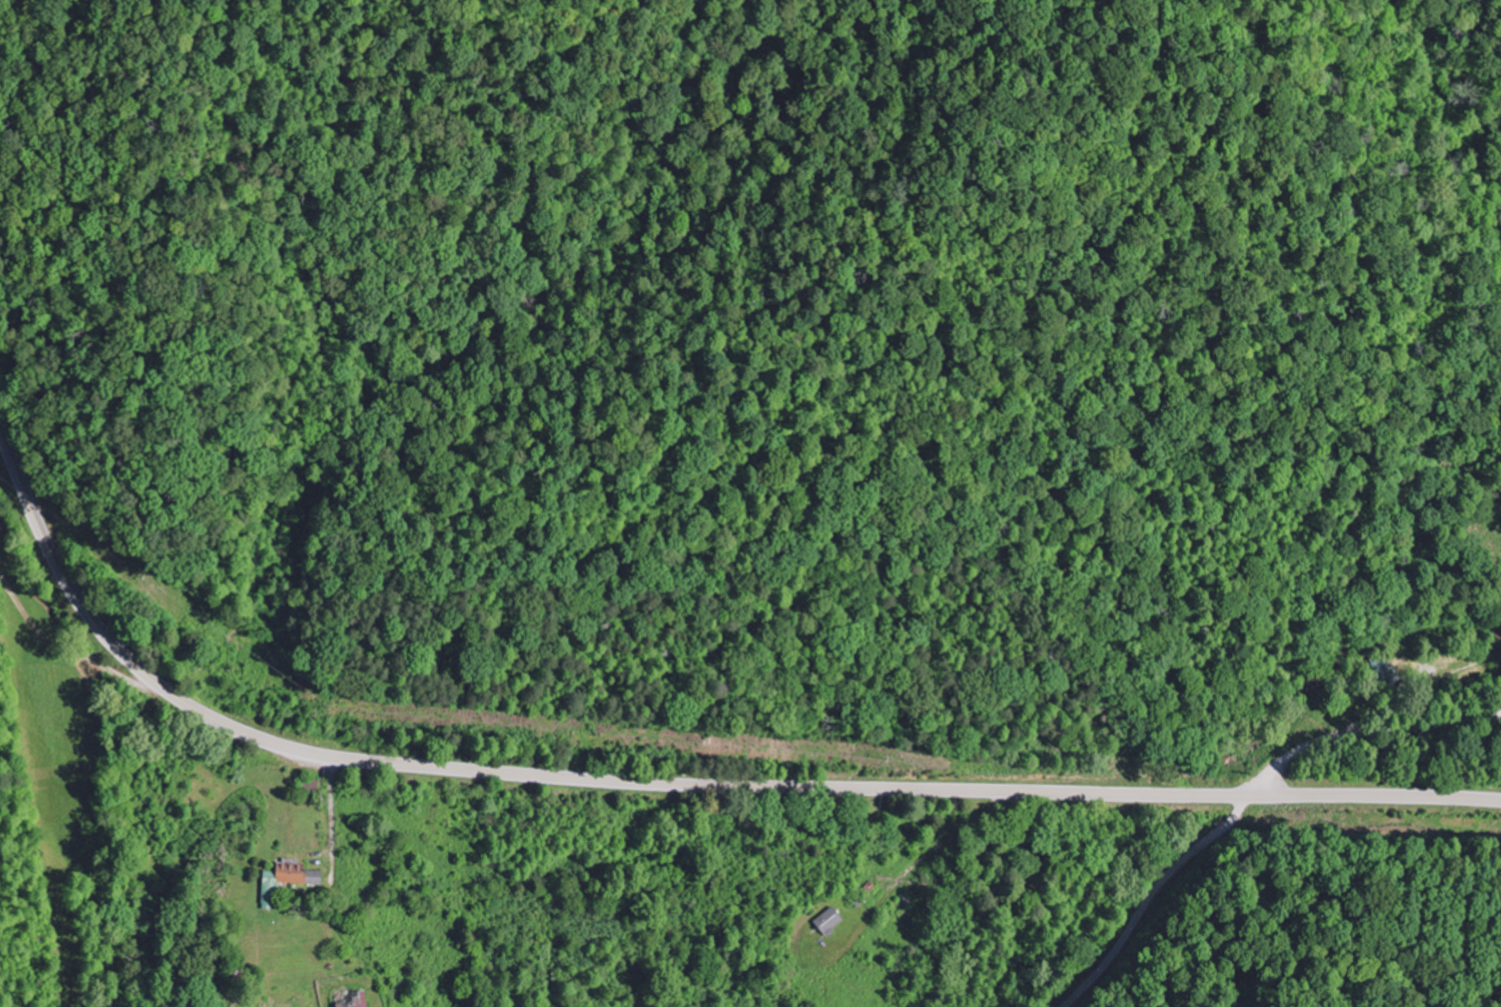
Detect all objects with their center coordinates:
road: (1367, 734)
road: (666, 781)
building: (303, 875)
road: (1154, 896)
building: (831, 921)

